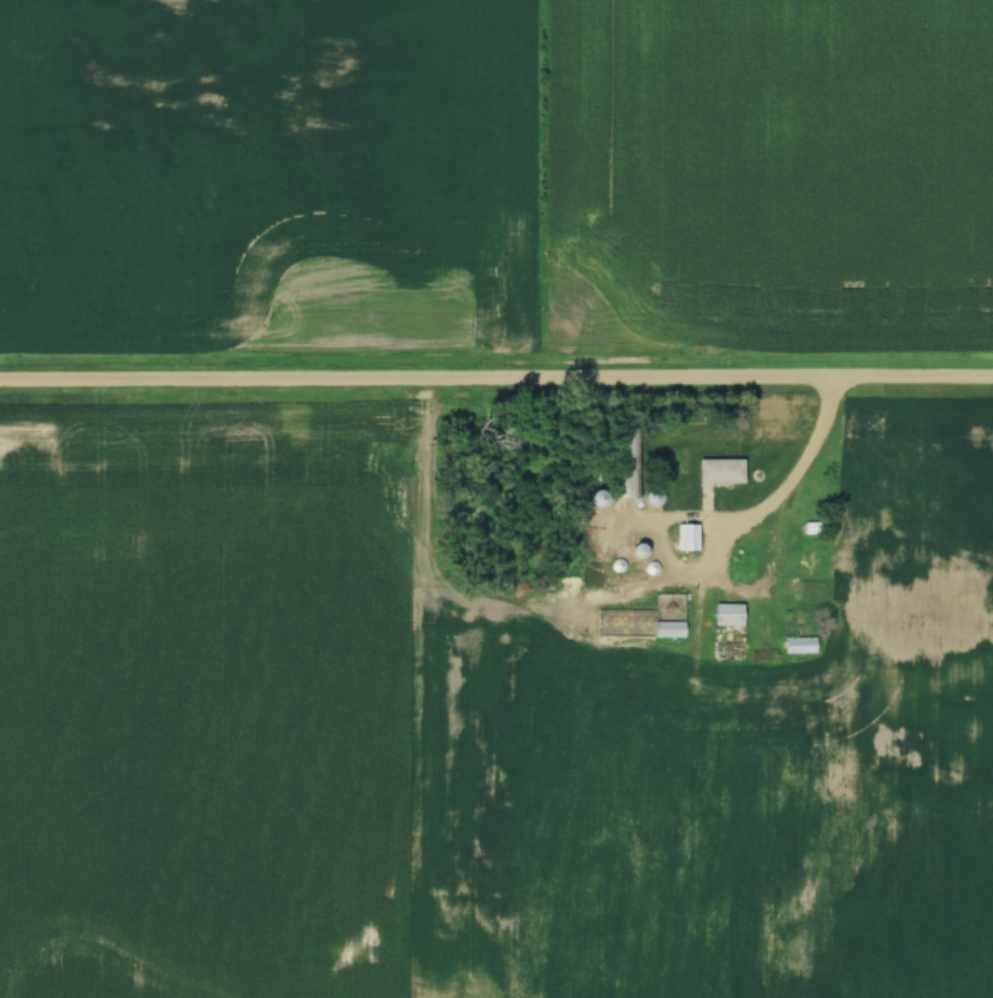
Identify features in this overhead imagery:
road: (496, 378)
road: (797, 467)
building: (719, 471)
building: (625, 479)
building: (631, 581)
building: (727, 614)
building: (668, 629)
building: (800, 645)

